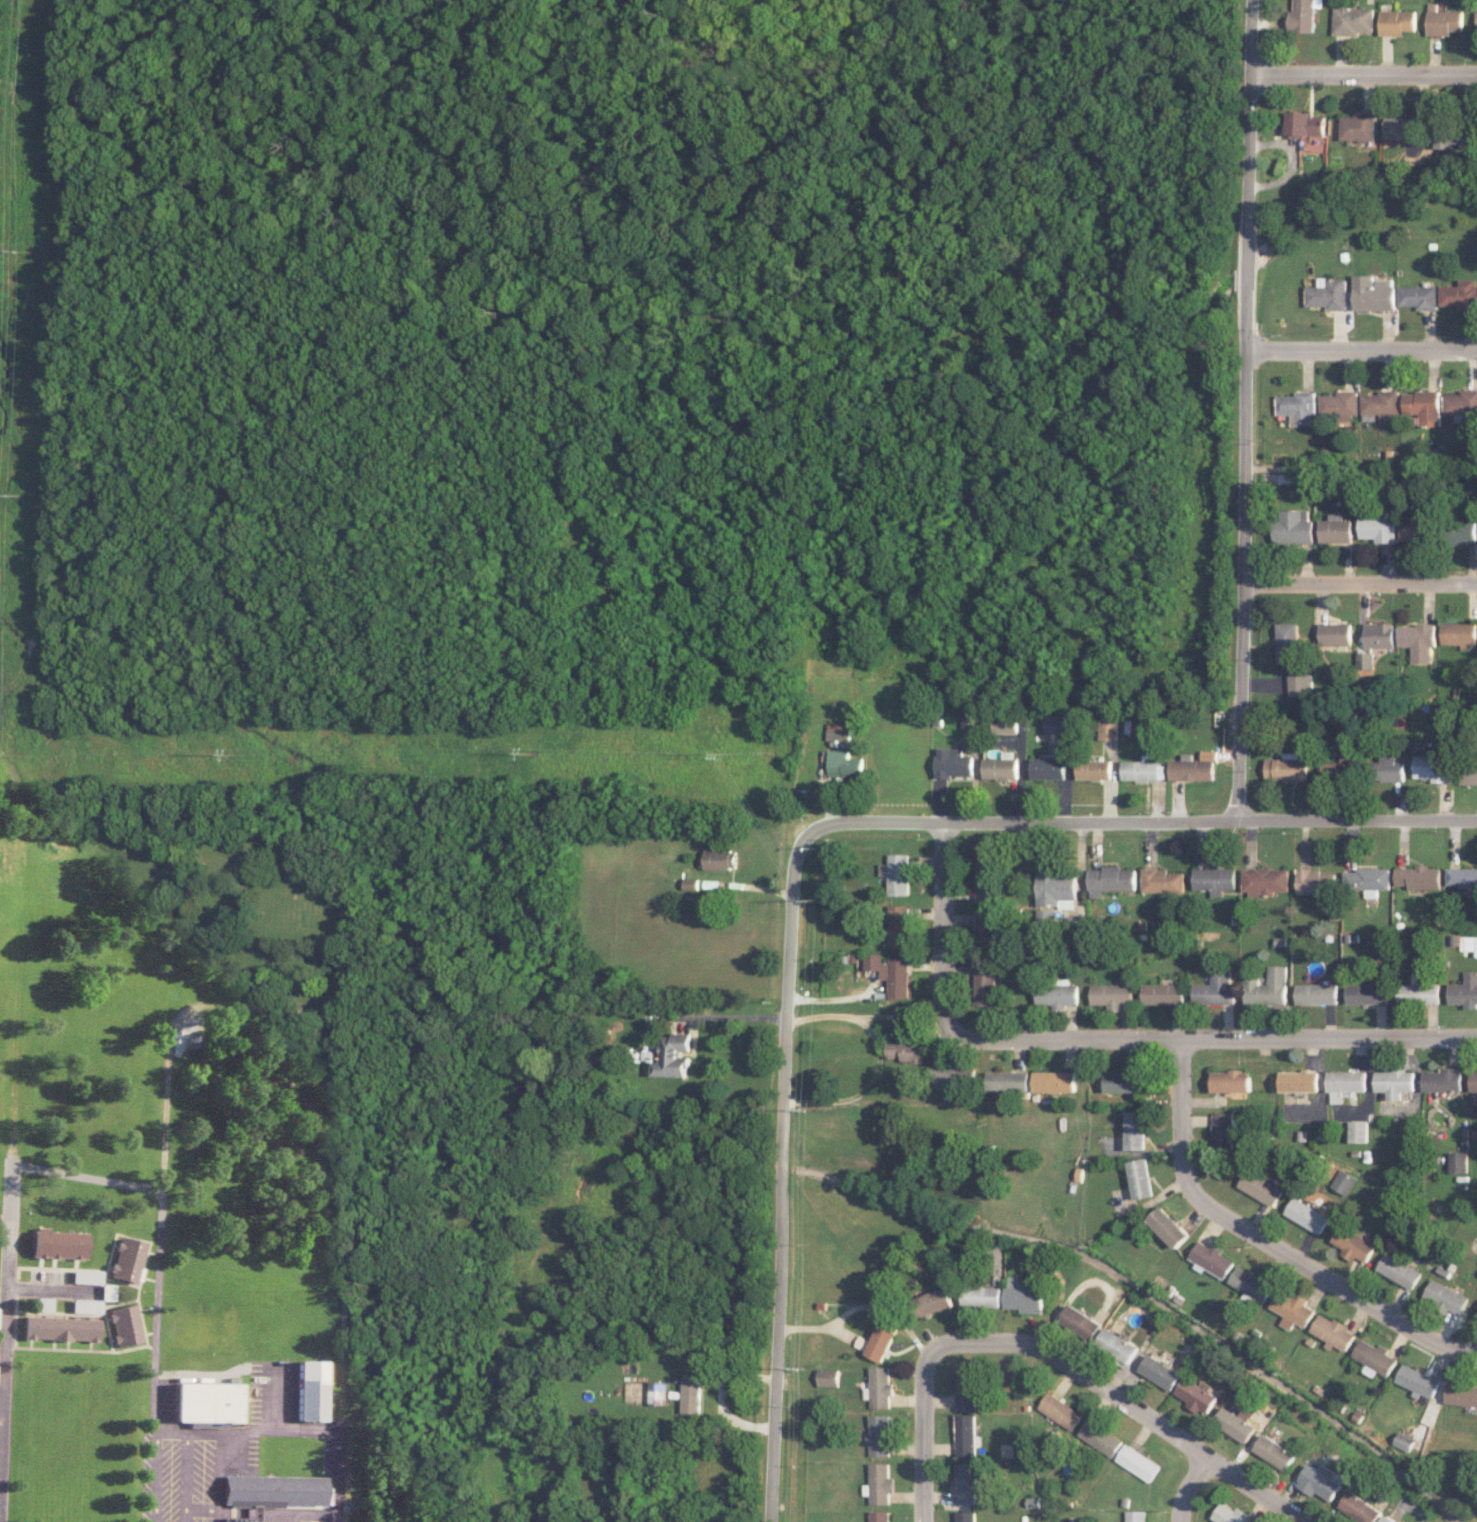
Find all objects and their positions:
building: (1476, 11)
building: (1301, 16)
building: (1352, 20)
building: (1443, 21)
building: (1396, 22)
road: (1364, 74)
building: (1305, 124)
building: (1358, 127)
building: (1403, 128)
building: (1456, 137)
building: (1372, 293)
building: (1327, 294)
building: (1459, 295)
building: (1417, 297)
road: (1361, 349)
building: (1460, 403)
building: (1338, 405)
building: (1380, 405)
building: (1422, 406)
building: (1295, 408)
road: (1243, 409)
building: (1291, 527)
building: (1376, 528)
building: (1413, 528)
building: (1334, 529)
building: (1460, 533)
road: (1358, 583)
building: (1333, 634)
building: (1458, 634)
building: (1377, 635)
building: (1416, 641)
building: (1284, 642)
building: (1362, 660)
building: (1298, 684)
building: (1056, 723)
building: (1003, 725)
building: (1107, 726)
building: (838, 734)
building: (952, 763)
building: (841, 765)
building: (1432, 766)
building: (1000, 767)
building: (1193, 768)
building: (1338, 768)
building: (1047, 769)
building: (1285, 769)
building: (1388, 769)
building: (1093, 770)
building: (1142, 770)
building: (1468, 773)
road: (1356, 820)
road: (1017, 821)
building: (720, 859)
building: (897, 874)
building: (1419, 877)
building: (1463, 877)
building: (1110, 879)
building: (986, 880)
building: (1214, 880)
building: (1368, 880)
building: (1163, 881)
building: (1264, 881)
building: (1316, 881)
building: (1056, 888)
building: (1046, 917)
building: (899, 926)
road: (943, 927)
building: (985, 927)
building: (1469, 943)
building: (891, 973)
building: (1267, 987)
building: (986, 989)
building: (1216, 989)
building: (1419, 991)
building: (1465, 991)
building: (1317, 993)
building: (1368, 993)
building: (1163, 994)
building: (1057, 995)
building: (1113, 995)
road: (718, 1014)
road: (1213, 1037)
building: (281, 1047)
building: (905, 1051)
building: (673, 1056)
building: (956, 1077)
building: (1444, 1080)
building: (1009, 1081)
building: (1055, 1081)
building: (1122, 1081)
building: (1299, 1081)
building: (1474, 1081)
building: (1230, 1082)
building: (1395, 1082)
building: (1345, 1084)
road: (1182, 1112)
building: (1220, 1129)
building: (1133, 1130)
building: (1357, 1131)
building: (1458, 1162)
building: (1138, 1178)
road: (784, 1180)
building: (1341, 1181)
building: (1259, 1186)
building: (1304, 1216)
building: (1166, 1227)
building: (57, 1244)
building: (1351, 1244)
building: (125, 1259)
building: (1209, 1259)
building: (1397, 1270)
building: (85, 1276)
road: (1327, 1279)
road: (23, 1280)
building: (1249, 1285)
building: (1025, 1295)
building: (982, 1296)
building: (1444, 1297)
building: (933, 1302)
building: (84, 1306)
building: (1290, 1309)
building: (1082, 1322)
building: (123, 1325)
building: (59, 1328)
building: (1331, 1332)
building: (881, 1340)
building: (1119, 1345)
building: (1372, 1358)
building: (1161, 1372)
building: (828, 1377)
building: (1416, 1383)
building: (880, 1387)
building: (968, 1389)
building: (308, 1390)
building: (659, 1393)
road: (720, 1393)
building: (692, 1394)
building: (1460, 1395)
building: (1197, 1396)
road: (1128, 1402)
building: (205, 1403)
building: (1062, 1411)
building: (1238, 1423)
road: (262, 1430)
building: (880, 1435)
road: (925, 1435)
building: (967, 1435)
building: (1102, 1438)
building: (1403, 1442)
building: (1277, 1452)
building: (1140, 1463)
building: (1322, 1481)
building: (880, 1483)
building: (967, 1483)
road: (1191, 1487)
building: (267, 1492)
building: (1360, 1508)
road: (309, 1512)
building: (1231, 1514)
building: (880, 1516)
building: (967, 1516)
building: (1137, 1516)
road: (288, 1518)
building: (1387, 1519)

